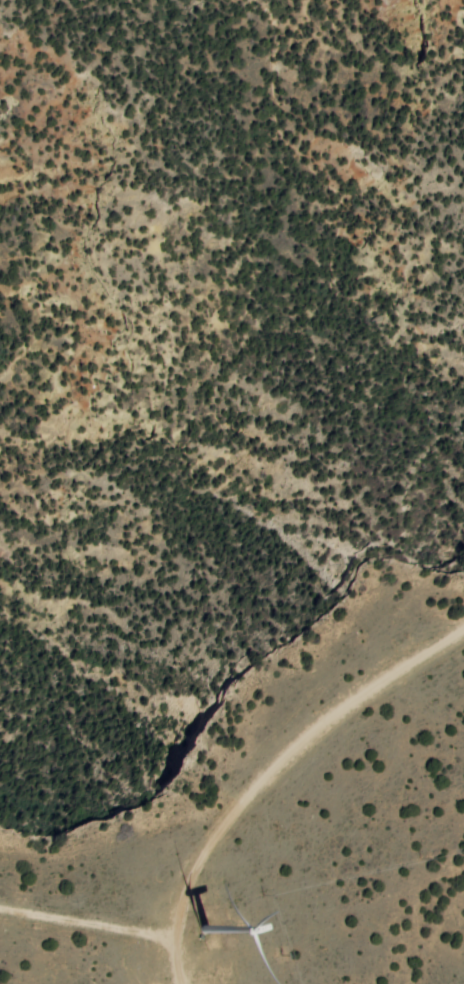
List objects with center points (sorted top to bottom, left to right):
road: (288, 758)
road: (88, 922)
wind turbine: (205, 928)
road: (177, 961)

